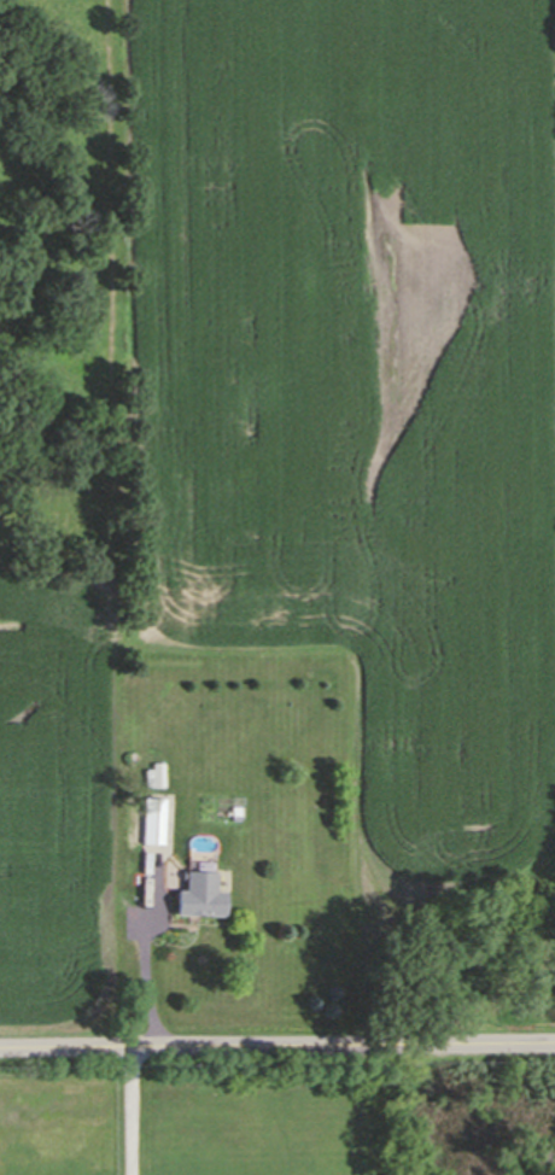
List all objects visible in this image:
building: (152, 816)
building: (199, 890)
road: (277, 1045)
road: (127, 1110)

